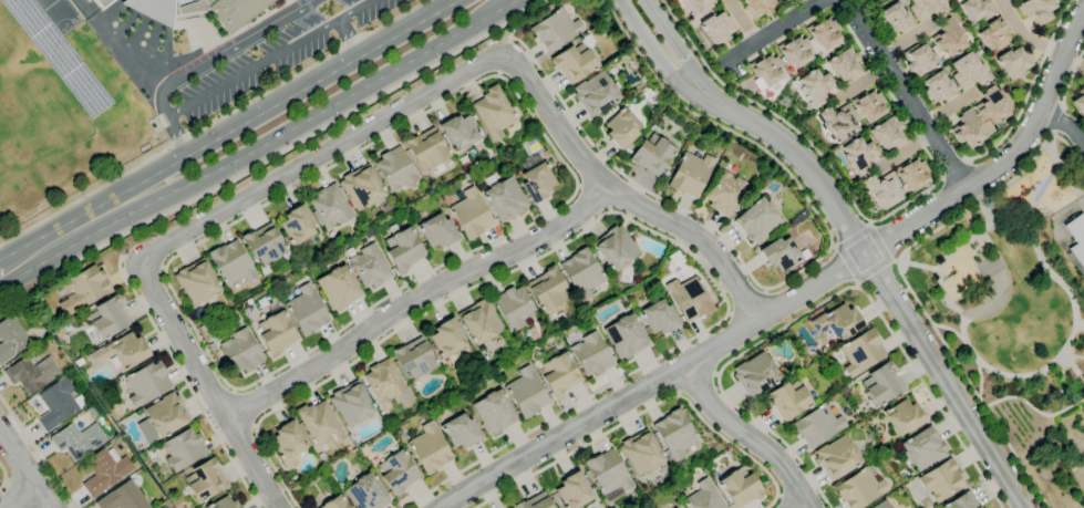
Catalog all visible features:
building: (89, 0)
building: (783, 0)
building: (786, 0)
building: (1014, 0)
road: (513, 1)
building: (209, 2)
building: (103, 3)
building: (698, 4)
building: (189, 8)
building: (758, 8)
building: (926, 8)
building: (154, 9)
building: (977, 9)
building: (1036, 10)
building: (236, 12)
building: (895, 19)
road: (740, 21)
building: (717, 28)
building: (555, 30)
road: (772, 30)
building: (824, 32)
building: (993, 34)
road: (349, 38)
building: (948, 38)
road: (1034, 41)
road: (674, 43)
road: (653, 50)
building: (796, 52)
parking lot: (275, 55)
road: (270, 58)
road: (882, 58)
building: (919, 59)
road: (1060, 59)
building: (575, 60)
road: (206, 61)
building: (1013, 63)
building: (844, 64)
building: (767, 70)
building: (968, 71)
road: (1071, 77)
building: (815, 87)
building: (938, 87)
road: (1029, 90)
road: (902, 93)
building: (595, 94)
road: (285, 97)
park: (20, 102)
building: (1080, 102)
building: (869, 105)
building: (991, 106)
road: (1061, 106)
road: (766, 110)
building: (493, 113)
road: (319, 114)
road: (1056, 118)
road: (214, 122)
building: (838, 122)
road: (908, 123)
road: (717, 124)
building: (155, 125)
road: (927, 125)
road: (1065, 125)
building: (621, 127)
building: (968, 129)
building: (458, 132)
building: (887, 133)
road: (1053, 133)
building: (426, 148)
building: (471, 153)
building: (545, 153)
road: (275, 155)
building: (651, 155)
building: (858, 155)
road: (313, 162)
building: (395, 168)
road: (952, 170)
building: (691, 174)
building: (912, 174)
building: (536, 178)
building: (362, 187)
building: (881, 189)
road: (1042, 189)
road: (615, 193)
road: (652, 193)
building: (725, 193)
road: (572, 194)
building: (504, 198)
building: (330, 206)
building: (386, 207)
building: (804, 212)
road: (985, 212)
building: (471, 214)
road: (623, 216)
building: (757, 221)
road: (871, 222)
road: (968, 224)
building: (298, 227)
building: (437, 231)
road: (69, 232)
building: (369, 236)
road: (853, 236)
road: (881, 242)
building: (264, 243)
building: (1076, 243)
road: (833, 246)
building: (402, 248)
building: (617, 253)
building: (780, 253)
road: (1039, 253)
road: (896, 262)
building: (231, 263)
road: (847, 265)
building: (368, 266)
road: (920, 266)
road: (10, 267)
road: (876, 272)
building: (581, 273)
road: (880, 279)
road: (904, 280)
building: (196, 281)
road: (858, 286)
building: (338, 288)
building: (84, 290)
building: (547, 290)
road: (414, 298)
building: (689, 298)
building: (180, 299)
road: (746, 301)
road: (822, 302)
building: (514, 308)
building: (306, 310)
park: (1018, 310)
building: (659, 318)
building: (554, 319)
building: (105, 320)
building: (479, 322)
building: (837, 322)
road: (753, 324)
road: (1078, 325)
building: (59, 331)
building: (276, 331)
building: (531, 333)
building: (624, 336)
building: (11, 338)
building: (446, 339)
building: (121, 351)
building: (241, 351)
road: (972, 351)
building: (861, 352)
building: (591, 354)
road: (1073, 355)
building: (414, 359)
building: (79, 362)
road: (1070, 363)
road: (1062, 366)
road: (180, 372)
building: (31, 373)
building: (558, 374)
building: (755, 374)
road: (1081, 377)
building: (384, 381)
building: (146, 383)
road: (1060, 383)
building: (881, 384)
road: (208, 385)
road: (698, 385)
building: (84, 386)
building: (844, 390)
building: (526, 393)
building: (787, 400)
building: (351, 403)
building: (58, 405)
road: (1034, 406)
road: (245, 408)
road: (647, 409)
building: (493, 413)
building: (166, 414)
building: (904, 417)
building: (319, 423)
building: (817, 426)
building: (460, 432)
building: (674, 435)
road: (749, 435)
building: (78, 439)
building: (287, 443)
building: (184, 448)
building: (429, 448)
building: (923, 448)
road: (39, 452)
building: (640, 453)
building: (886, 454)
building: (837, 457)
building: (669, 469)
road: (24, 470)
building: (105, 470)
building: (396, 473)
road: (3, 475)
building: (608, 475)
building: (205, 479)
building: (942, 480)
building: (765, 483)
building: (740, 487)
building: (859, 489)
building: (293, 490)
building: (572, 491)
building: (365, 493)
road: (17, 494)
building: (124, 497)
building: (703, 497)
road: (21, 499)
road: (782, 501)
building: (961, 501)
building: (334, 502)
building: (535, 502)
building: (224, 504)
building: (881, 505)
road: (803, 506)
building: (506, 507)
building: (678, 507)

